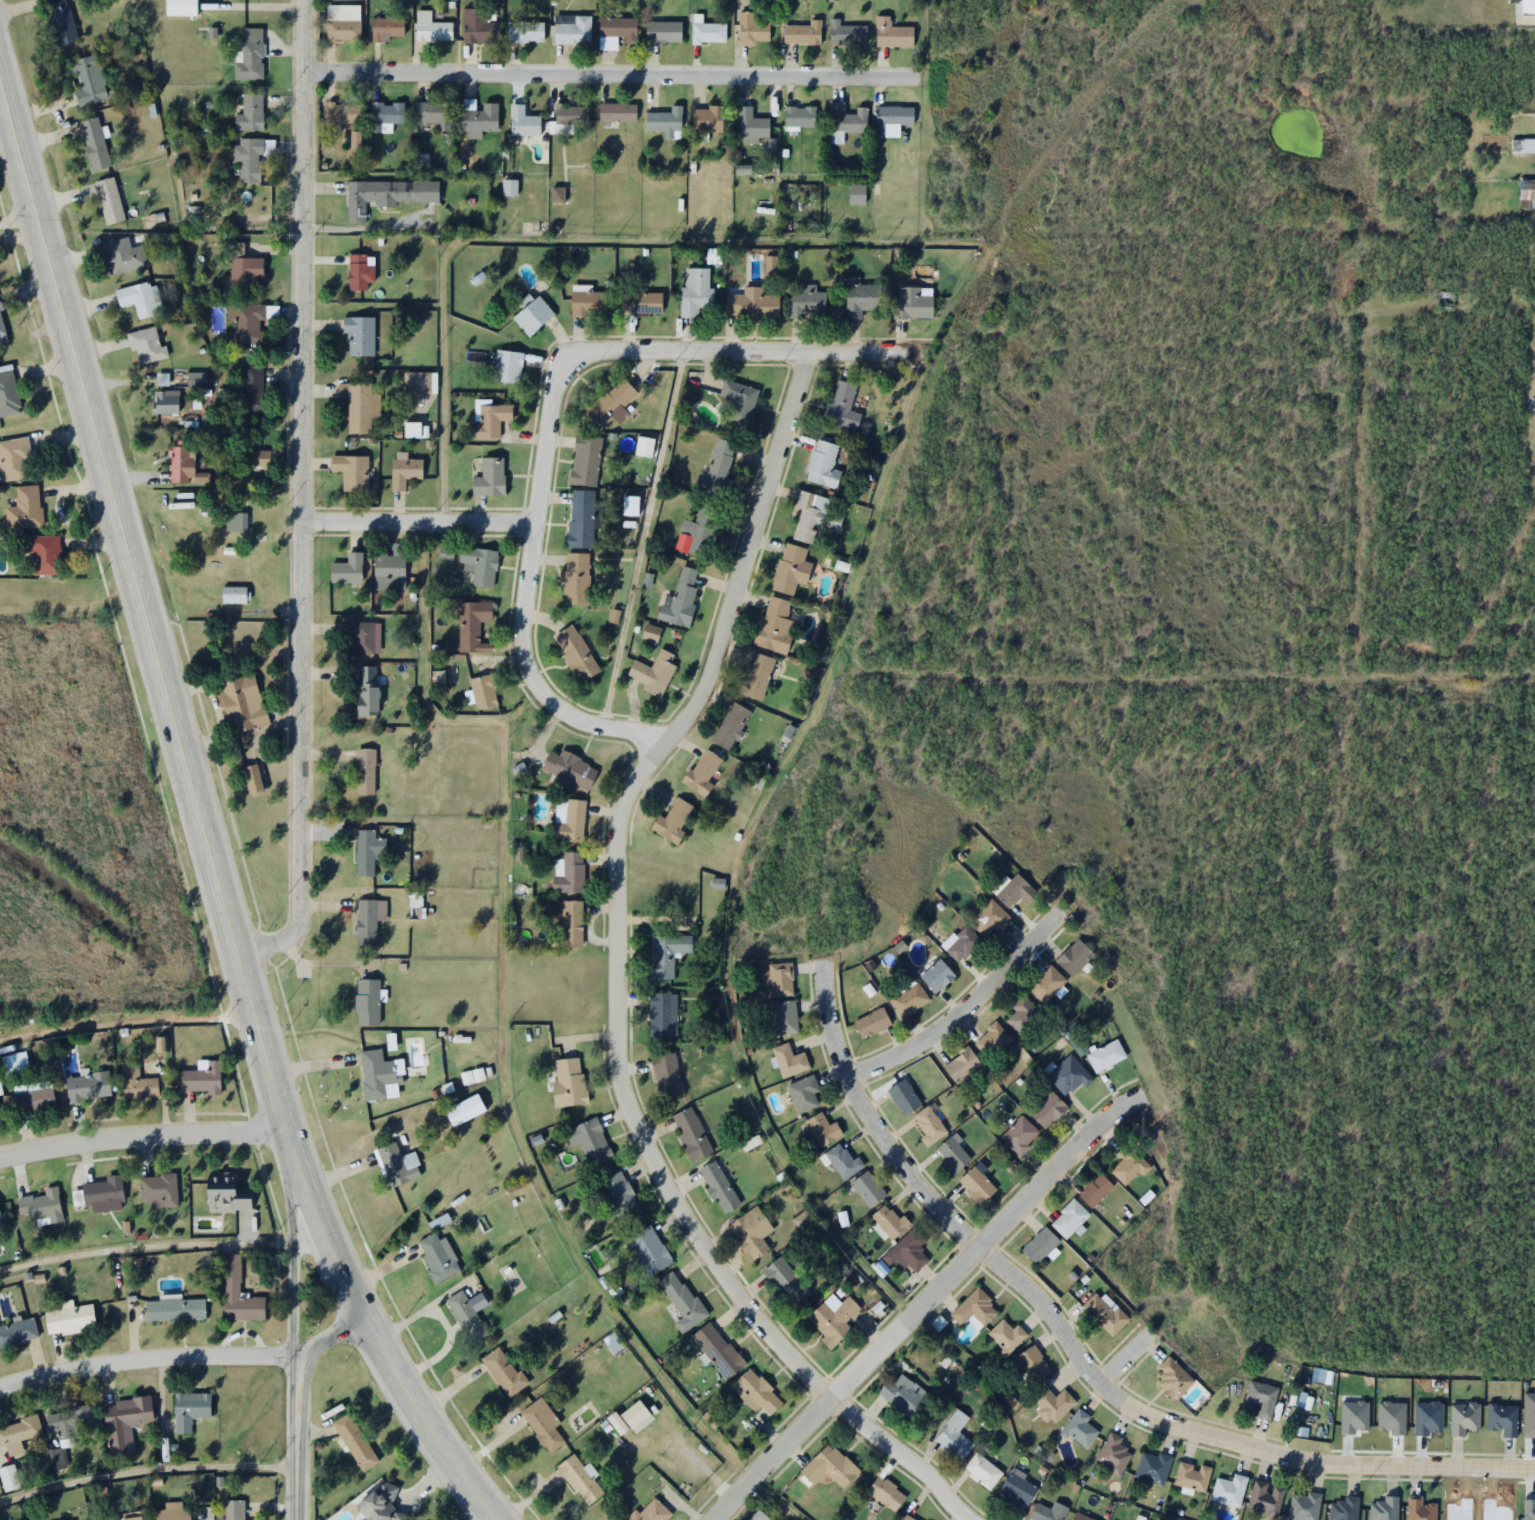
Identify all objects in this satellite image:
building: (1528, 2)
building: (184, 4)
building: (65, 17)
building: (342, 22)
building: (478, 27)
building: (386, 28)
building: (571, 30)
building: (752, 30)
building: (433, 31)
building: (525, 32)
building: (615, 32)
building: (663, 32)
building: (708, 32)
building: (846, 32)
building: (802, 33)
building: (891, 33)
building: (253, 47)
building: (94, 72)
road: (604, 78)
building: (252, 103)
building: (341, 113)
building: (434, 113)
building: (616, 113)
building: (571, 115)
building: (384, 116)
building: (799, 116)
building: (892, 116)
building: (478, 118)
building: (707, 119)
building: (845, 120)
building: (522, 122)
building: (665, 122)
building: (751, 126)
building: (97, 136)
building: (1523, 146)
building: (250, 151)
building: (388, 188)
building: (112, 192)
building: (856, 193)
building: (1527, 194)
building: (248, 208)
building: (125, 248)
building: (249, 263)
building: (361, 264)
building: (697, 286)
building: (141, 290)
building: (865, 292)
building: (590, 296)
building: (644, 296)
building: (754, 296)
building: (912, 296)
building: (812, 297)
building: (533, 307)
building: (248, 315)
building: (4, 318)
building: (362, 328)
building: (144, 332)
road: (738, 347)
building: (509, 357)
building: (195, 380)
building: (416, 383)
building: (256, 384)
building: (10, 388)
building: (166, 396)
building: (740, 396)
building: (362, 397)
building: (613, 397)
road: (912, 402)
building: (842, 405)
building: (495, 413)
building: (588, 451)
building: (725, 451)
building: (16, 452)
building: (258, 452)
building: (184, 454)
building: (407, 463)
building: (355, 464)
building: (822, 464)
building: (492, 468)
road: (291, 496)
building: (26, 503)
building: (583, 511)
building: (239, 513)
building: (812, 518)
building: (235, 522)
road: (408, 522)
building: (701, 527)
road: (642, 540)
building: (448, 545)
building: (47, 547)
building: (445, 553)
building: (481, 558)
building: (349, 561)
building: (392, 564)
building: (789, 570)
building: (579, 571)
building: (236, 588)
building: (682, 592)
road: (519, 593)
building: (476, 619)
building: (774, 625)
building: (651, 627)
building: (365, 628)
building: (578, 647)
building: (654, 667)
building: (755, 675)
building: (487, 683)
building: (368, 684)
building: (245, 694)
road: (164, 701)
building: (730, 725)
building: (569, 761)
building: (366, 762)
building: (254, 771)
building: (701, 772)
building: (573, 814)
building: (671, 821)
building: (367, 846)
building: (572, 867)
building: (1014, 890)
building: (370, 914)
building: (988, 919)
building: (569, 921)
building: (964, 944)
building: (665, 953)
building: (1073, 957)
building: (936, 975)
road: (607, 979)
building: (780, 979)
building: (1046, 984)
building: (368, 994)
building: (908, 999)
road: (956, 1009)
building: (1022, 1013)
road: (123, 1014)
building: (662, 1014)
building: (784, 1017)
building: (871, 1022)
building: (992, 1040)
road: (500, 1043)
building: (1105, 1056)
building: (789, 1060)
building: (14, 1063)
building: (961, 1066)
building: (377, 1068)
building: (666, 1074)
building: (1068, 1075)
building: (201, 1078)
building: (136, 1081)
building: (567, 1082)
building: (87, 1086)
building: (803, 1093)
building: (32, 1096)
building: (903, 1096)
building: (467, 1103)
building: (1046, 1109)
building: (929, 1125)
building: (822, 1128)
road: (140, 1130)
building: (690, 1133)
building: (1018, 1135)
building: (592, 1141)
building: (395, 1155)
building: (952, 1155)
building: (842, 1161)
building: (1128, 1164)
building: (976, 1184)
building: (718, 1186)
building: (867, 1189)
building: (1094, 1190)
building: (157, 1191)
building: (225, 1192)
building: (103, 1194)
building: (620, 1195)
building: (41, 1206)
building: (1068, 1218)
building: (889, 1221)
building: (751, 1232)
road: (145, 1246)
building: (1039, 1246)
building: (647, 1251)
building: (906, 1251)
building: (442, 1252)
road: (293, 1261)
building: (785, 1282)
building: (238, 1294)
building: (680, 1300)
building: (470, 1308)
road: (918, 1308)
building: (974, 1308)
building: (174, 1309)
building: (1104, 1314)
building: (832, 1317)
building: (69, 1318)
building: (17, 1332)
building: (1006, 1335)
building: (716, 1350)
road: (146, 1356)
building: (1032, 1363)
building: (505, 1364)
road: (1076, 1364)
road: (1120, 1366)
building: (1172, 1377)
building: (755, 1392)
building: (904, 1395)
building: (1261, 1397)
road: (295, 1398)
building: (1051, 1404)
building: (637, 1407)
building: (188, 1409)
road: (418, 1416)
building: (544, 1416)
building: (125, 1421)
building: (67, 1427)
building: (1079, 1428)
building: (17, 1434)
building: (359, 1434)
building: (953, 1435)
building: (1112, 1454)
building: (829, 1466)
building: (1151, 1467)
road: (147, 1468)
building: (982, 1471)
building: (580, 1474)
building: (1191, 1476)
building: (8, 1477)
building: (885, 1487)
building: (1014, 1489)
building: (1228, 1490)
building: (1265, 1497)
building: (385, 1500)
building: (1303, 1506)
building: (1344, 1508)
building: (233, 1509)
building: (649, 1509)
building: (1383, 1509)
building: (1419, 1510)
building: (1047, 1512)
building: (759, 1513)
building: (170, 1514)
building: (133, 1516)
building: (1080, 1517)
building: (910, 1518)
building: (69, 1519)
building: (71, 1519)
building: (423, 1519)

